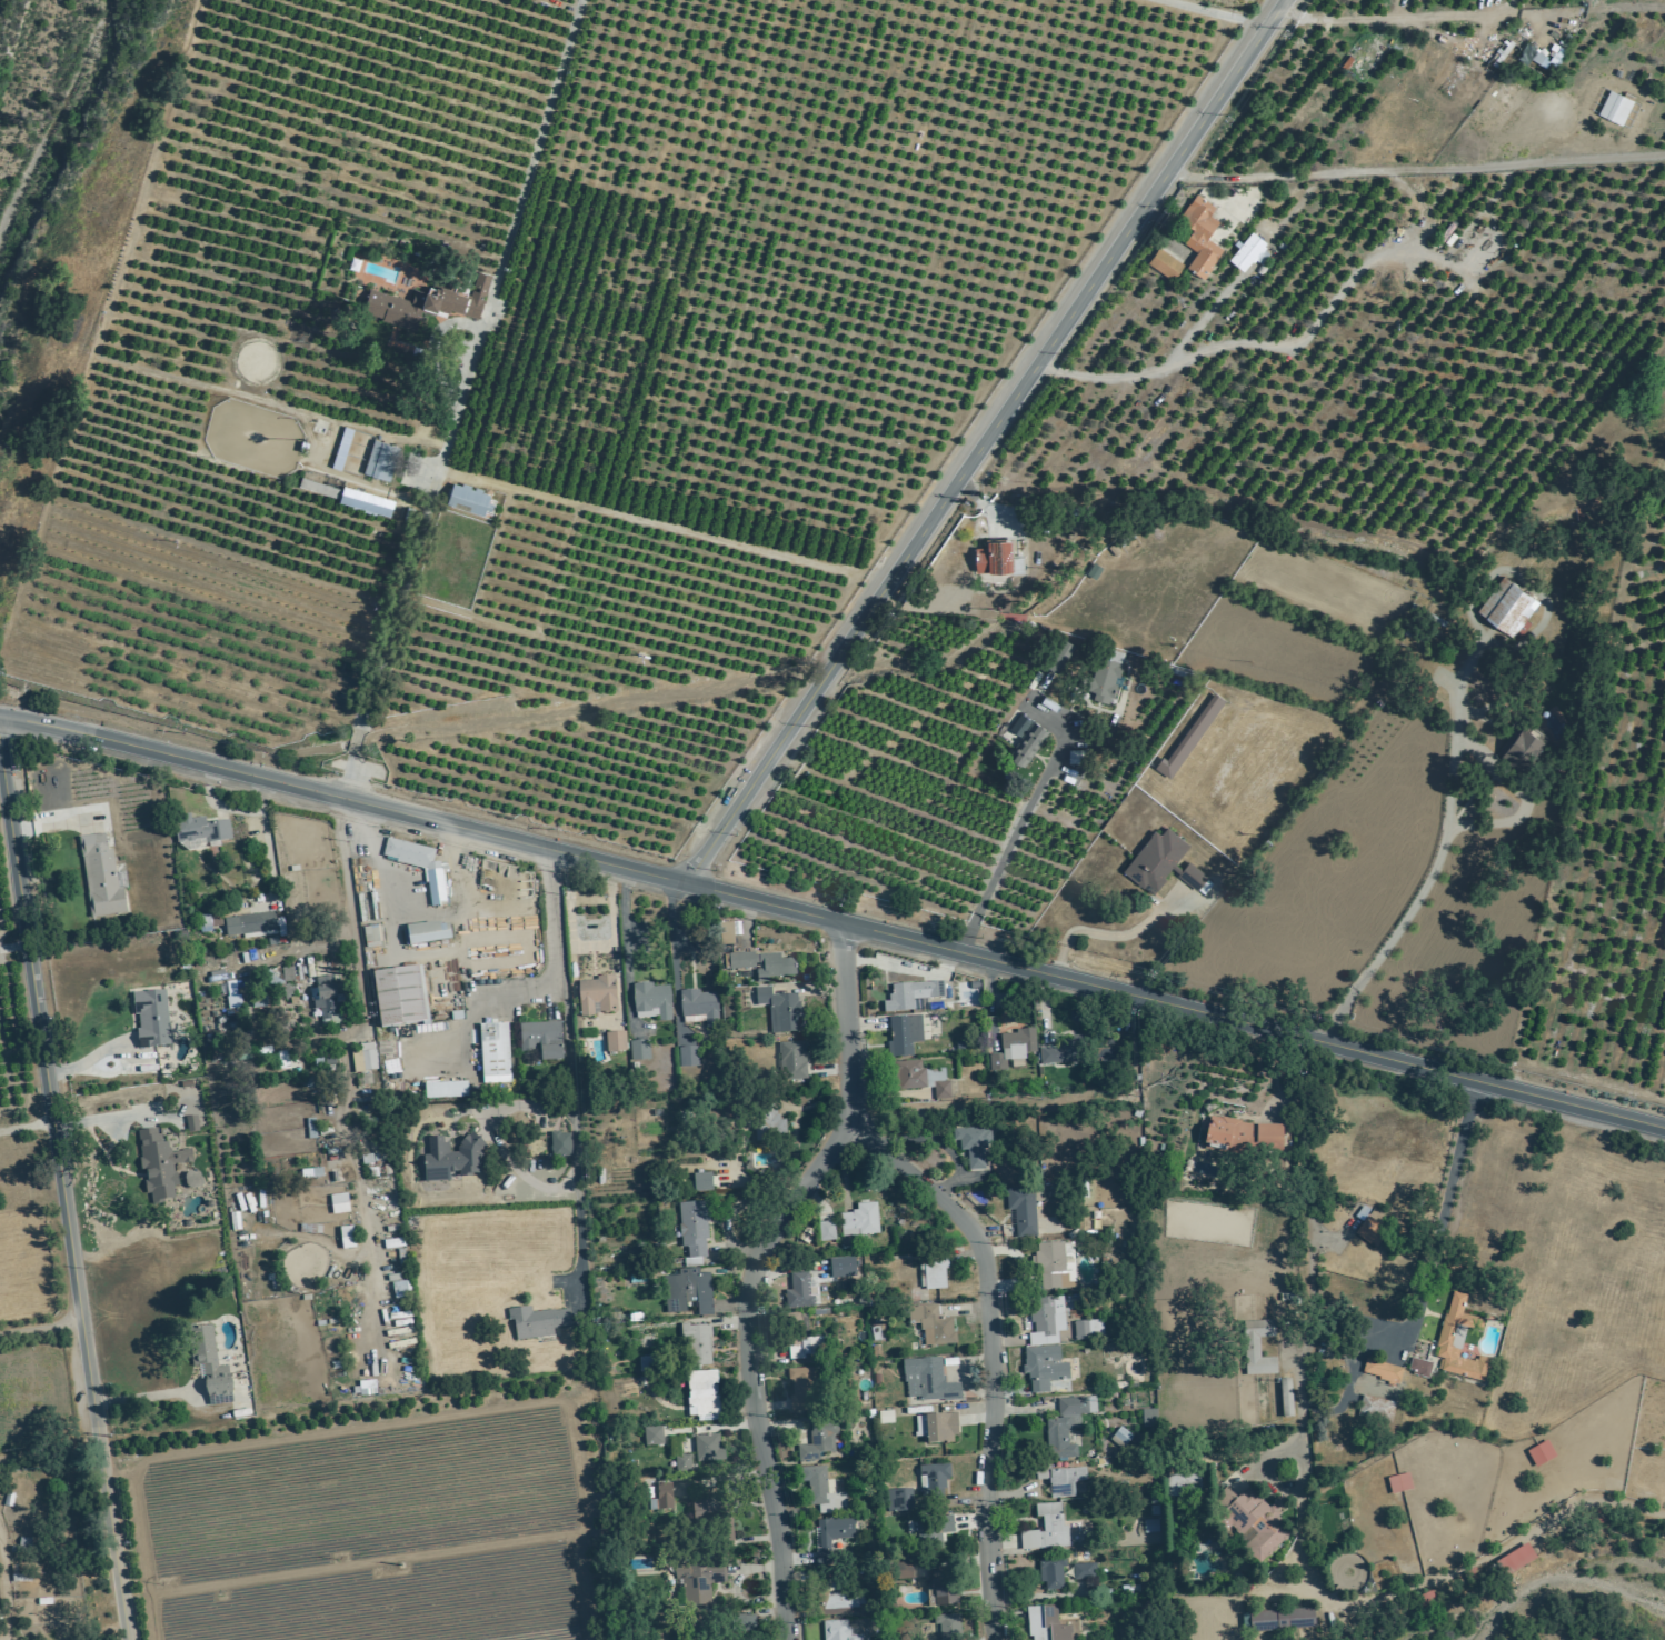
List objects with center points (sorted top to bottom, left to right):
road: (1219, 12)
road: (1418, 18)
building: (1533, 56)
building: (1453, 72)
building: (1616, 108)
building: (1202, 236)
building: (1248, 251)
building: (1167, 264)
road: (109, 281)
road: (1065, 326)
road: (467, 364)
road: (1156, 369)
building: (342, 448)
building: (380, 460)
building: (470, 499)
building: (367, 501)
road: (985, 503)
building: (996, 553)
building: (1019, 563)
road: (881, 596)
road: (889, 600)
building: (1509, 604)
road: (933, 607)
building: (1056, 651)
road: (829, 672)
building: (1105, 672)
building: (1192, 734)
road: (351, 741)
building: (1025, 742)
building: (1527, 746)
building: (1073, 753)
road: (341, 776)
road: (750, 788)
road: (227, 807)
road: (1018, 820)
road: (49, 824)
building: (196, 830)
road: (266, 860)
building: (1160, 862)
building: (419, 866)
building: (97, 874)
road: (1432, 876)
road: (347, 898)
building: (197, 919)
road: (832, 919)
building: (209, 922)
building: (247, 923)
building: (429, 932)
building: (726, 933)
building: (371, 934)
road: (1111, 936)
building: (268, 938)
road: (11, 943)
road: (627, 946)
road: (672, 952)
road: (410, 957)
building: (765, 964)
building: (232, 994)
building: (909, 994)
building: (399, 996)
building: (597, 996)
building: (326, 998)
road: (486, 1001)
building: (652, 1001)
building: (700, 1006)
building: (780, 1010)
road: (845, 1016)
building: (151, 1019)
road: (566, 1021)
building: (904, 1034)
building: (541, 1039)
building: (616, 1041)
building: (1014, 1048)
building: (639, 1050)
building: (1067, 1051)
building: (495, 1052)
building: (1111, 1054)
building: (688, 1057)
building: (365, 1058)
road: (90, 1060)
building: (792, 1060)
building: (920, 1078)
building: (446, 1090)
road: (103, 1122)
building: (191, 1124)
building: (770, 1126)
building: (310, 1128)
road: (24, 1129)
road: (490, 1133)
building: (1247, 1137)
building: (560, 1143)
building: (971, 1146)
building: (451, 1159)
building: (157, 1164)
building: (311, 1173)
building: (702, 1182)
building: (339, 1203)
road: (60, 1207)
building: (1023, 1210)
road: (1442, 1210)
building: (860, 1220)
building: (694, 1228)
building: (827, 1231)
building: (1372, 1232)
building: (347, 1237)
building: (1048, 1263)
building: (843, 1267)
building: (928, 1278)
building: (800, 1290)
building: (688, 1291)
building: (1046, 1320)
building: (537, 1322)
road: (40, 1329)
building: (1088, 1330)
building: (938, 1331)
building: (1459, 1341)
building: (697, 1343)
road: (988, 1347)
building: (811, 1348)
building: (1258, 1348)
road: (741, 1362)
building: (209, 1366)
building: (1044, 1367)
building: (1420, 1367)
building: (1383, 1371)
building: (928, 1380)
building: (363, 1388)
building: (802, 1389)
building: (702, 1396)
road: (144, 1397)
building: (1287, 1398)
building: (1377, 1409)
building: (886, 1417)
building: (1150, 1418)
building: (920, 1426)
building: (1066, 1426)
building: (941, 1428)
building: (654, 1436)
building: (1123, 1437)
building: (819, 1441)
building: (709, 1447)
road: (47, 1451)
building: (1542, 1453)
building: (682, 1463)
building: (934, 1478)
building: (1065, 1481)
building: (1400, 1483)
building: (1185, 1487)
building: (822, 1490)
building: (661, 1498)
building: (900, 1500)
building: (714, 1514)
building: (1597, 1517)
building: (1253, 1521)
building: (1047, 1529)
building: (831, 1537)
building: (1517, 1561)
building: (906, 1570)
building: (1084, 1571)
building: (1053, 1572)
building: (699, 1581)
building: (943, 1588)
building: (1426, 1599)
building: (853, 1600)
building: (832, 1602)
building: (1284, 1620)
building: (747, 1623)
building: (949, 1627)
building: (837, 1630)

